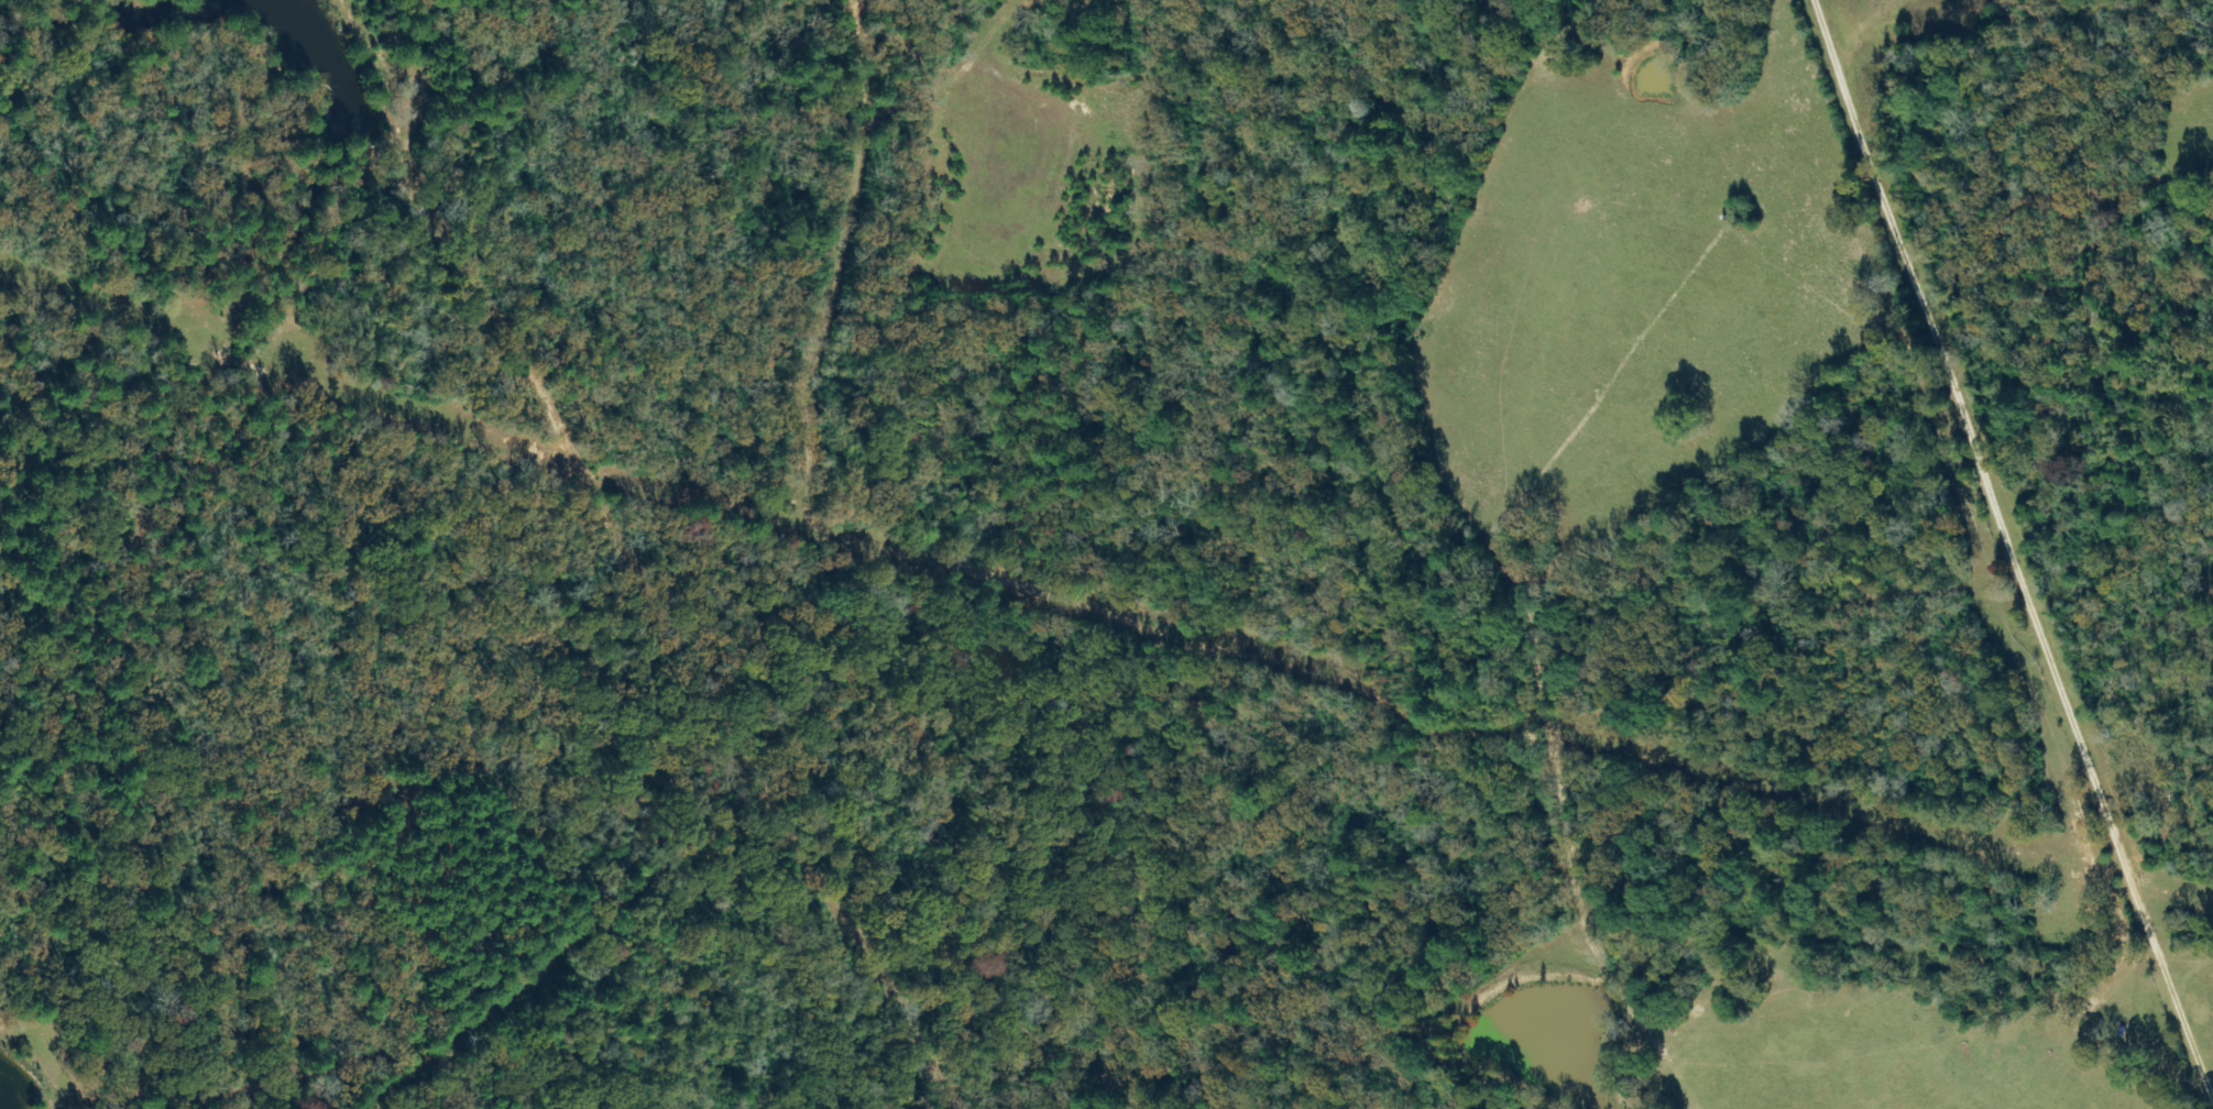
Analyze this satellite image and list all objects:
road: (1762, 568)

